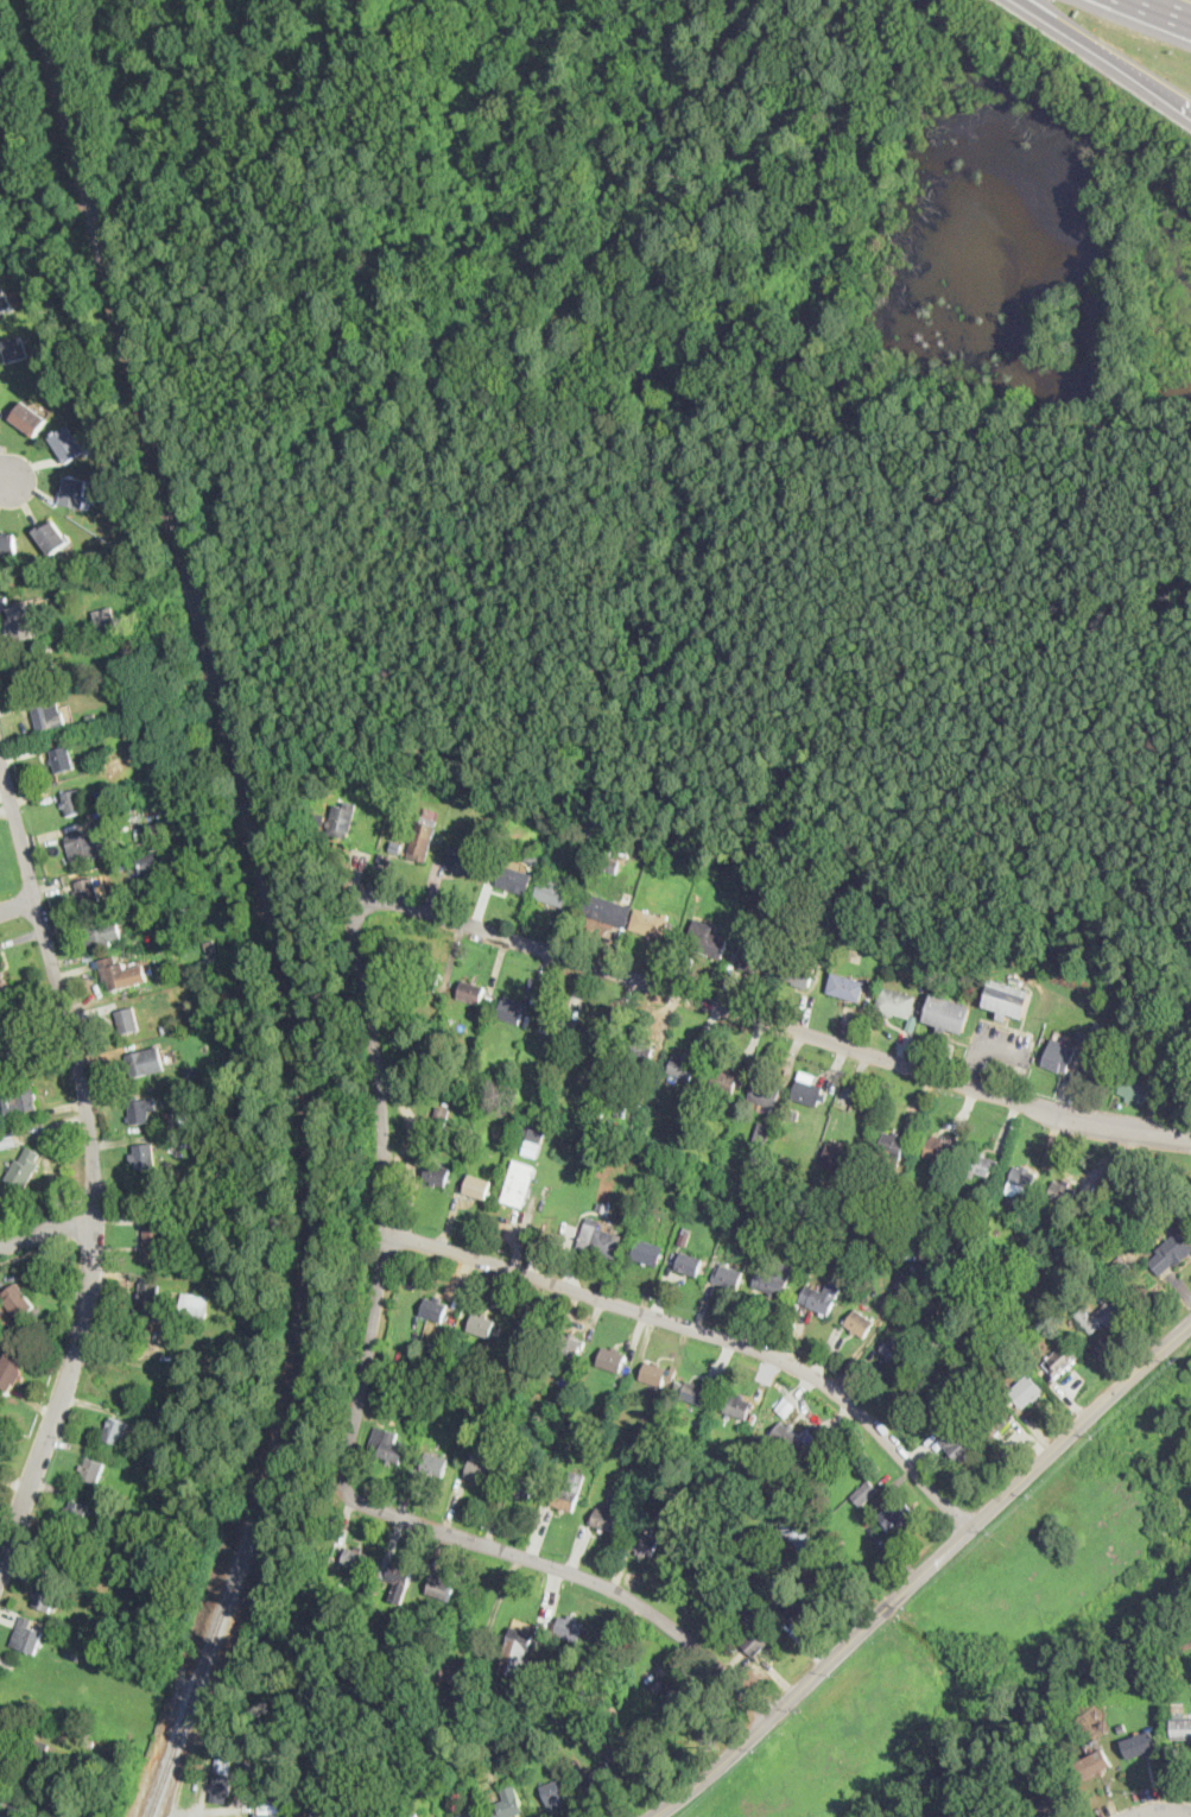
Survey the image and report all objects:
road: (1176, 6)
road: (1107, 53)
building: (6, 302)
building: (14, 348)
building: (30, 418)
building: (68, 443)
road: (2, 449)
road: (12, 480)
building: (74, 492)
building: (52, 536)
building: (8, 544)
building: (144, 583)
building: (103, 612)
building: (19, 620)
building: (141, 652)
building: (39, 673)
building: (45, 713)
building: (90, 717)
building: (62, 758)
building: (72, 803)
building: (343, 819)
building: (159, 834)
building: (584, 834)
building: (189, 836)
building: (423, 838)
building: (93, 844)
building: (610, 859)
building: (464, 860)
building: (148, 863)
building: (515, 879)
building: (88, 891)
building: (553, 891)
road: (18, 905)
railway: (272, 907)
building: (609, 910)
building: (189, 912)
building: (651, 923)
building: (104, 933)
building: (708, 938)
building: (186, 943)
building: (794, 948)
building: (210, 957)
building: (759, 958)
building: (798, 971)
building: (121, 973)
building: (427, 977)
building: (4, 983)
building: (848, 987)
building: (471, 992)
building: (1008, 999)
building: (897, 1001)
building: (513, 1009)
building: (949, 1014)
building: (127, 1020)
road: (767, 1020)
building: (917, 1020)
building: (1100, 1025)
building: (553, 1026)
building: (167, 1030)
building: (1082, 1034)
building: (597, 1039)
building: (13, 1047)
building: (640, 1053)
building: (1058, 1059)
building: (228, 1062)
building: (138, 1064)
building: (1176, 1066)
building: (683, 1068)
building: (1100, 1069)
building: (194, 1070)
building: (600, 1074)
building: (1139, 1074)
building: (724, 1081)
building: (1136, 1089)
building: (765, 1093)
building: (807, 1093)
building: (21, 1100)
building: (601, 1108)
building: (141, 1110)
building: (794, 1112)
building: (441, 1118)
building: (170, 1120)
building: (185, 1120)
building: (762, 1131)
building: (533, 1140)
building: (8, 1141)
building: (208, 1144)
building: (892, 1148)
building: (937, 1148)
building: (144, 1157)
building: (841, 1157)
road: (93, 1164)
building: (978, 1164)
building: (24, 1169)
building: (437, 1173)
building: (898, 1176)
building: (1021, 1180)
building: (477, 1184)
building: (519, 1184)
road: (385, 1191)
building: (813, 1192)
building: (1063, 1192)
building: (933, 1194)
building: (604, 1205)
building: (642, 1211)
building: (756, 1221)
road: (46, 1228)
building: (685, 1235)
building: (600, 1239)
building: (153, 1243)
building: (1173, 1247)
building: (629, 1248)
road: (36, 1249)
building: (794, 1249)
building: (647, 1252)
building: (690, 1264)
building: (227, 1266)
building: (1121, 1266)
building: (872, 1270)
building: (728, 1275)
building: (866, 1280)
building: (769, 1283)
building: (906, 1283)
building: (821, 1297)
building: (18, 1300)
building: (147, 1302)
building: (194, 1306)
building: (435, 1309)
building: (37, 1311)
building: (57, 1315)
building: (1103, 1315)
building: (25, 1322)
building: (860, 1323)
building: (481, 1324)
building: (528, 1331)
road: (702, 1337)
building: (569, 1346)
building: (431, 1348)
building: (895, 1350)
building: (612, 1359)
building: (1060, 1360)
building: (11, 1368)
building: (1020, 1368)
building: (553, 1369)
building: (657, 1373)
building: (921, 1388)
building: (1027, 1391)
building: (695, 1393)
building: (1008, 1395)
building: (970, 1401)
building: (739, 1406)
building: (785, 1406)
building: (990, 1423)
building: (115, 1430)
building: (790, 1438)
building: (957, 1443)
building: (386, 1445)
building: (755, 1450)
building: (435, 1464)
building: (480, 1468)
building: (91, 1470)
building: (521, 1484)
building: (864, 1492)
building: (569, 1493)
building: (76, 1513)
building: (891, 1518)
building: (606, 1519)
building: (799, 1534)
building: (645, 1543)
building: (340, 1553)
building: (59, 1555)
building: (355, 1558)
road: (921, 1572)
road: (571, 1574)
building: (397, 1577)
building: (442, 1587)
building: (45, 1596)
building: (391, 1608)
road: (494, 1609)
building: (739, 1610)
building: (755, 1612)
building: (799, 1612)
building: (375, 1626)
building: (570, 1628)
building: (27, 1635)
building: (519, 1638)
building: (760, 1638)
building: (72, 1652)
building: (454, 1674)
building: (659, 1686)
building: (680, 1703)
building: (613, 1711)
building: (9, 1726)
building: (1122, 1728)
building: (1182, 1728)
building: (594, 1729)
building: (89, 1743)
building: (533, 1743)
building: (1140, 1745)
building: (39, 1748)
building: (273, 1750)
building: (490, 1750)
building: (644, 1750)
building: (222, 1760)
building: (395, 1764)
building: (1095, 1764)
building: (367, 1768)
building: (0, 1773)
building: (602, 1775)
building: (277, 1779)
building: (484, 1784)
building: (222, 1788)
building: (555, 1792)
building: (397, 1793)
building: (1052, 1798)
building: (508, 1804)
building: (275, 1806)
road: (1159, 1809)
building: (271, 1815)
building: (411, 1815)
building: (468, 1815)

